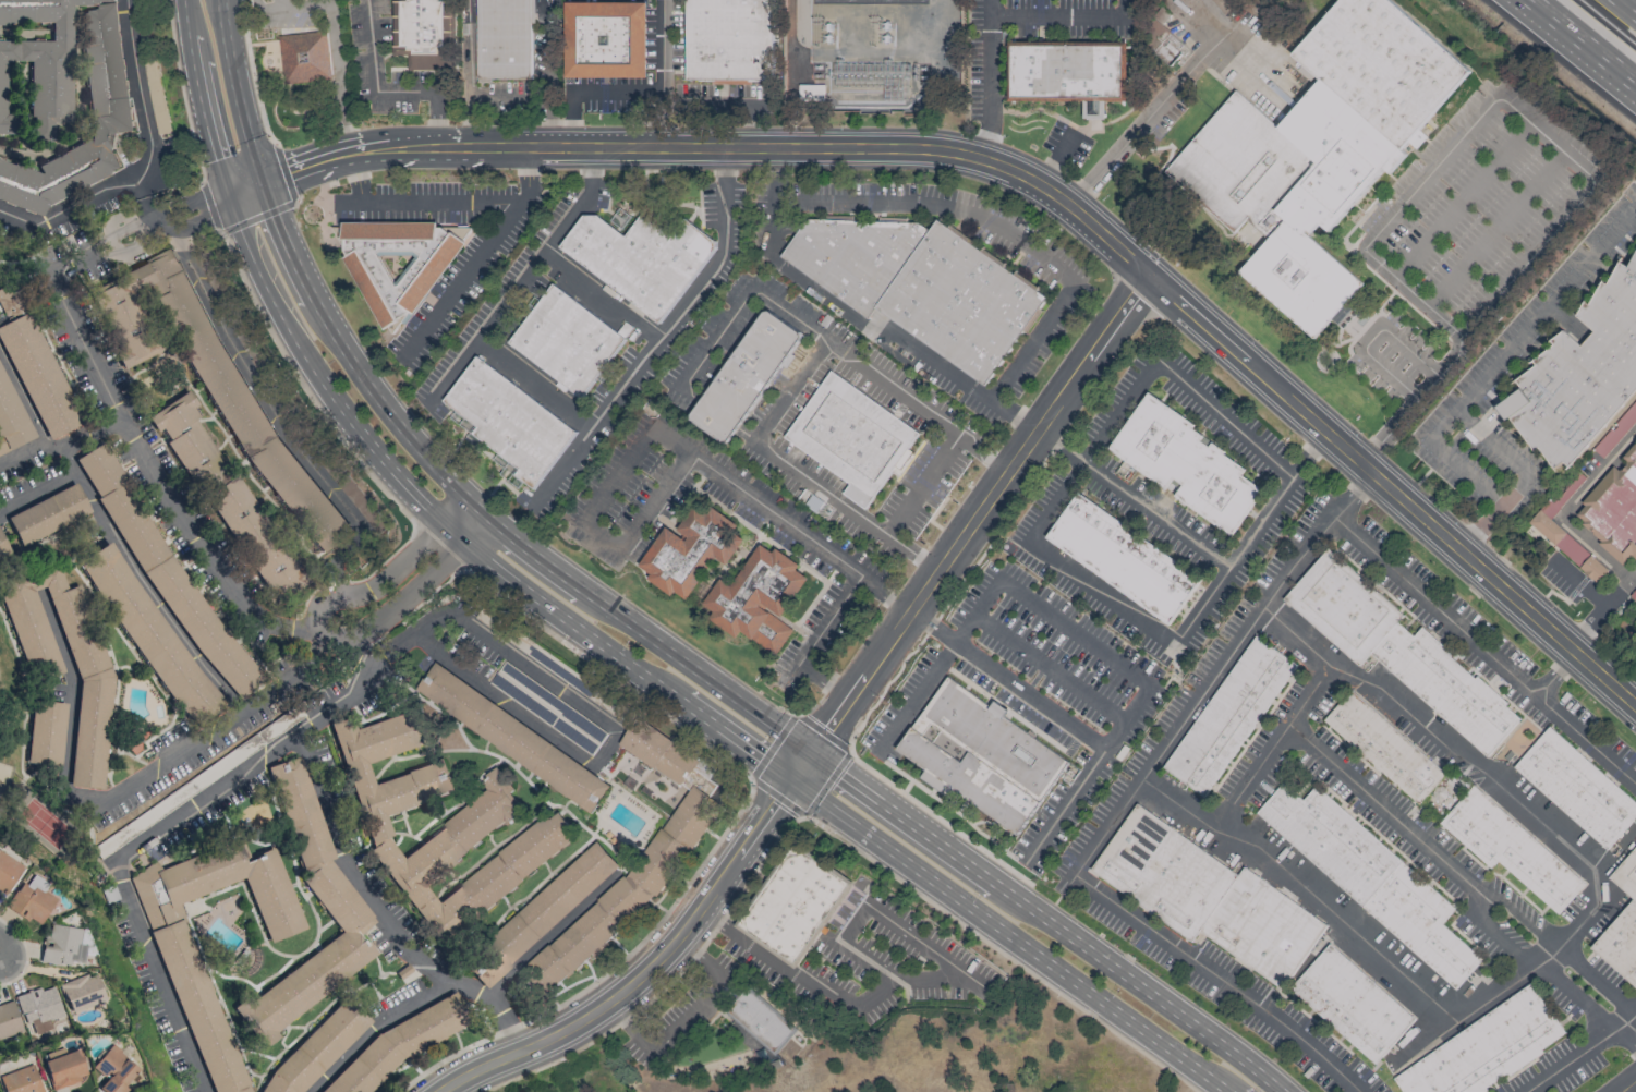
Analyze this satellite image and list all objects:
road: (330, 2)
road: (256, 3)
road: (1629, 4)
road: (294, 7)
road: (987, 8)
road: (1061, 16)
building: (423, 33)
building: (504, 39)
building: (606, 39)
building: (729, 40)
road: (1584, 40)
power substation: (870, 52)
road: (1201, 53)
building: (304, 57)
building: (1066, 72)
road: (657, 73)
road: (251, 74)
road: (339, 81)
building: (154, 83)
building: (63, 88)
road: (987, 88)
road: (615, 90)
road: (385, 92)
road: (181, 93)
road: (234, 93)
road: (728, 104)
road: (572, 119)
road: (1549, 139)
road: (1124, 144)
building: (1322, 147)
road: (1056, 158)
road: (144, 163)
road: (526, 166)
road: (724, 166)
road: (590, 172)
road: (1430, 172)
road: (1025, 177)
road: (359, 180)
traffic signals: (259, 184)
road: (1632, 191)
road: (774, 194)
traffic signals: (229, 196)
road: (1464, 202)
road: (424, 203)
road: (259, 215)
road: (1006, 225)
road: (1496, 230)
building: (640, 259)
building: (399, 262)
road: (470, 272)
building: (921, 286)
road: (604, 294)
road: (1415, 295)
road: (509, 300)
road: (801, 321)
road: (1479, 323)
road: (897, 337)
road: (1371, 338)
building: (568, 341)
road: (651, 352)
road: (1501, 361)
building: (35, 364)
building: (744, 376)
building: (1580, 376)
road: (535, 386)
road: (304, 389)
road: (795, 395)
road: (112, 400)
road: (719, 415)
building: (11, 418)
road: (1224, 421)
building: (510, 422)
building: (1614, 430)
building: (852, 438)
building: (187, 440)
road: (61, 446)
road: (1088, 449)
road: (983, 452)
road: (1308, 456)
building: (1185, 463)
road: (1526, 478)
road: (735, 482)
road: (814, 483)
road: (1362, 484)
road: (46, 486)
road: (924, 486)
road: (652, 496)
road: (1132, 499)
road: (1566, 508)
building: (1613, 510)
building: (48, 514)
road: (462, 521)
road: (489, 521)
road: (969, 526)
road: (603, 534)
building: (255, 537)
building: (3, 547)
building: (1567, 547)
road: (437, 549)
building: (692, 550)
road: (914, 554)
building: (1123, 559)
road: (1234, 562)
road: (1577, 582)
road: (1100, 592)
building: (759, 598)
road: (1602, 612)
road: (932, 627)
road: (471, 629)
road: (1074, 633)
building: (149, 634)
road: (323, 634)
road: (589, 636)
road: (814, 641)
road: (1483, 650)
building: (1399, 651)
road: (446, 656)
building: (553, 664)
road: (938, 665)
road: (1049, 668)
road: (1556, 675)
building: (93, 677)
road: (1211, 682)
road: (1029, 697)
building: (547, 709)
building: (1231, 716)
building: (47, 732)
road: (851, 737)
building: (513, 738)
road: (289, 740)
road: (1446, 745)
road: (608, 747)
building: (1384, 747)
road: (1270, 749)
road: (846, 750)
building: (659, 752)
building: (981, 754)
traffic signals: (809, 755)
road: (1087, 775)
traffic signals: (791, 780)
road: (122, 788)
building: (1578, 788)
road: (1381, 809)
road: (823, 827)
building: (469, 828)
road: (720, 835)
road: (924, 836)
building: (1511, 849)
building: (8, 872)
building: (1371, 876)
road: (1307, 890)
building: (628, 891)
building: (1209, 897)
building: (32, 900)
building: (340, 900)
building: (795, 906)
road: (383, 912)
building: (542, 914)
road: (718, 921)
road: (850, 921)
building: (1622, 926)
road: (547, 937)
road: (919, 942)
road: (1559, 943)
building: (63, 945)
road: (5, 948)
road: (865, 960)
road: (1538, 963)
road: (644, 970)
road: (791, 973)
road: (159, 974)
road: (1220, 978)
road: (905, 980)
building: (82, 993)
road: (1500, 994)
road: (1154, 998)
building: (1352, 1004)
building: (40, 1007)
road: (687, 1016)
building: (208, 1017)
building: (10, 1020)
building: (760, 1021)
road: (376, 1026)
road: (1625, 1039)
building: (401, 1044)
building: (317, 1048)
building: (1487, 1049)
road: (1580, 1053)
building: (65, 1069)
building: (114, 1070)
building: (22, 1080)
road: (1633, 1089)

